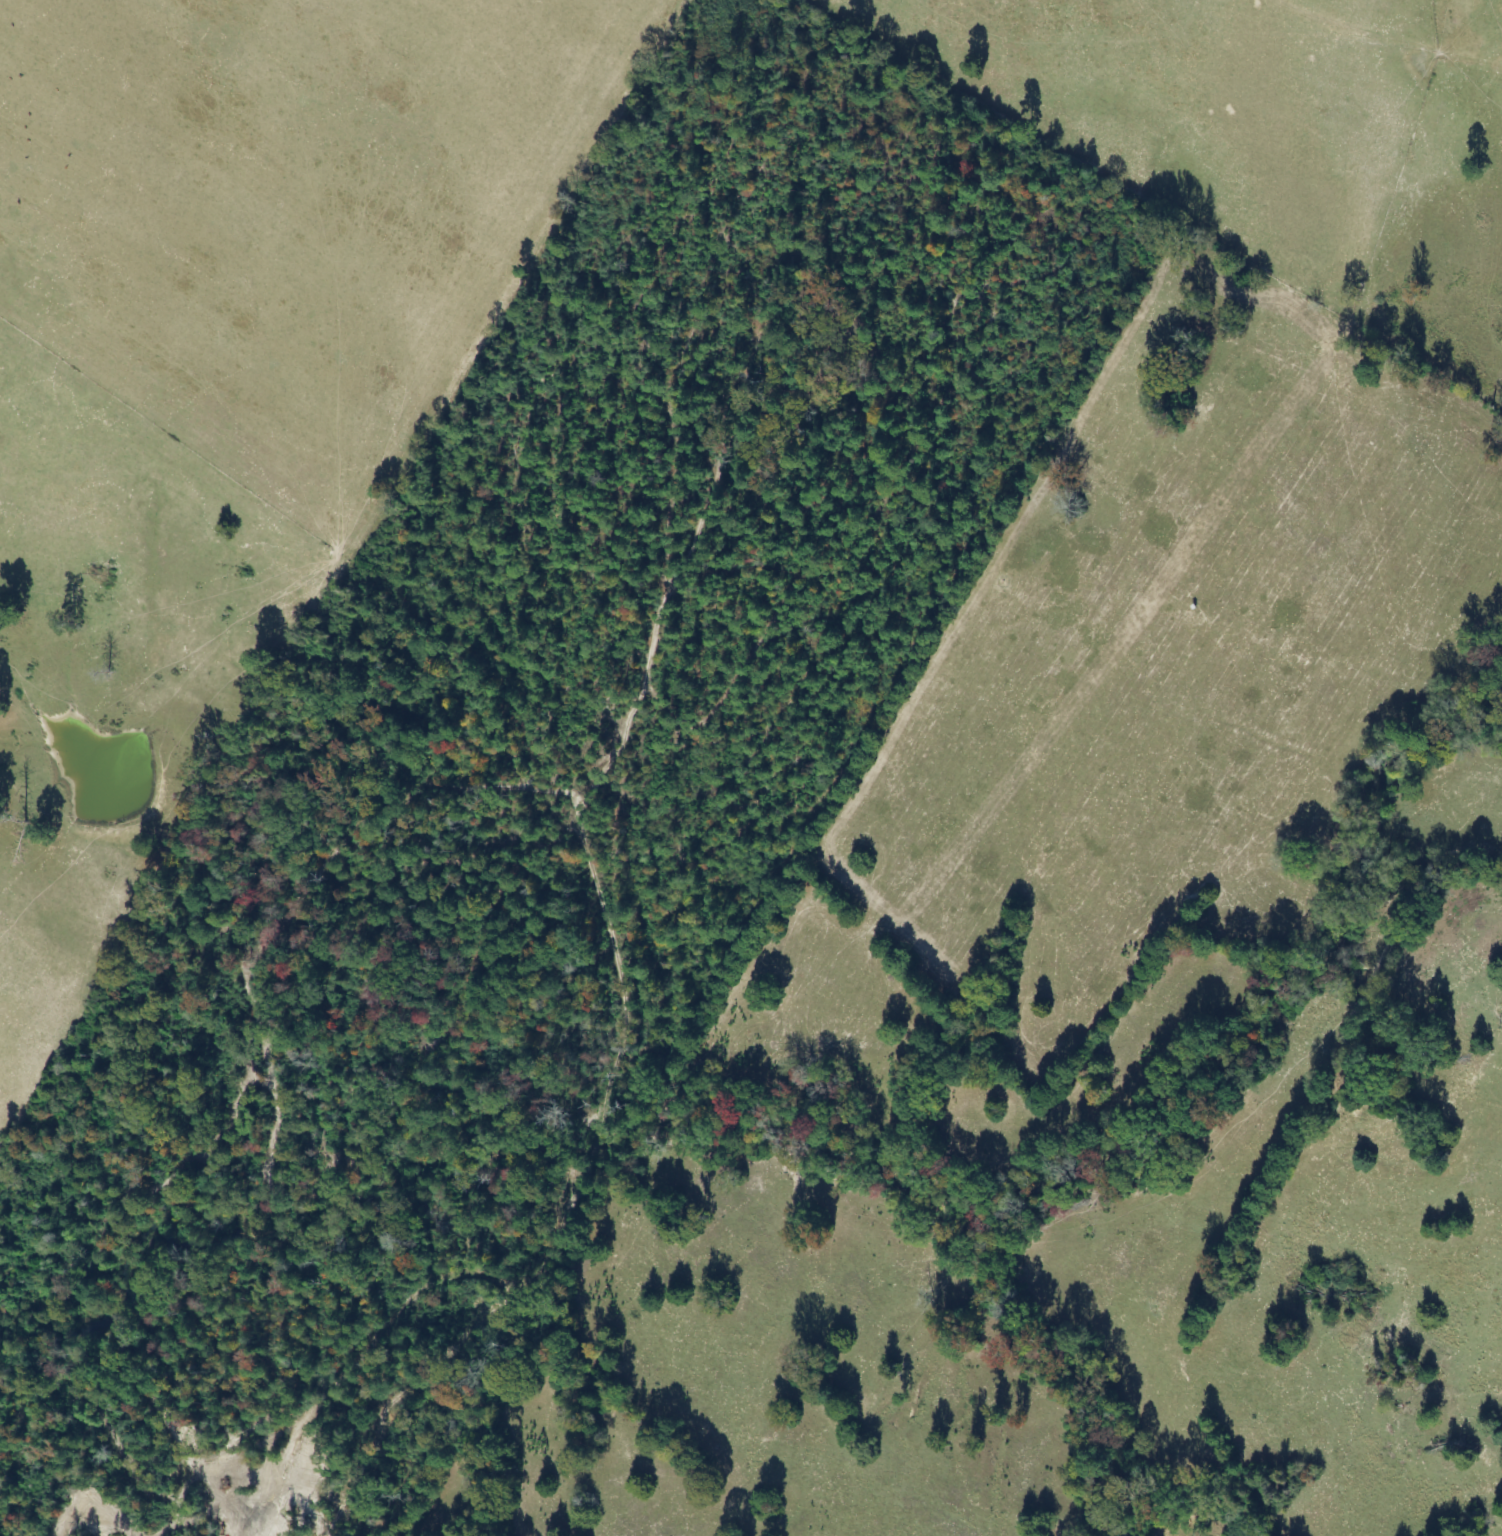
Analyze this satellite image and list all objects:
road: (1372, 34)

